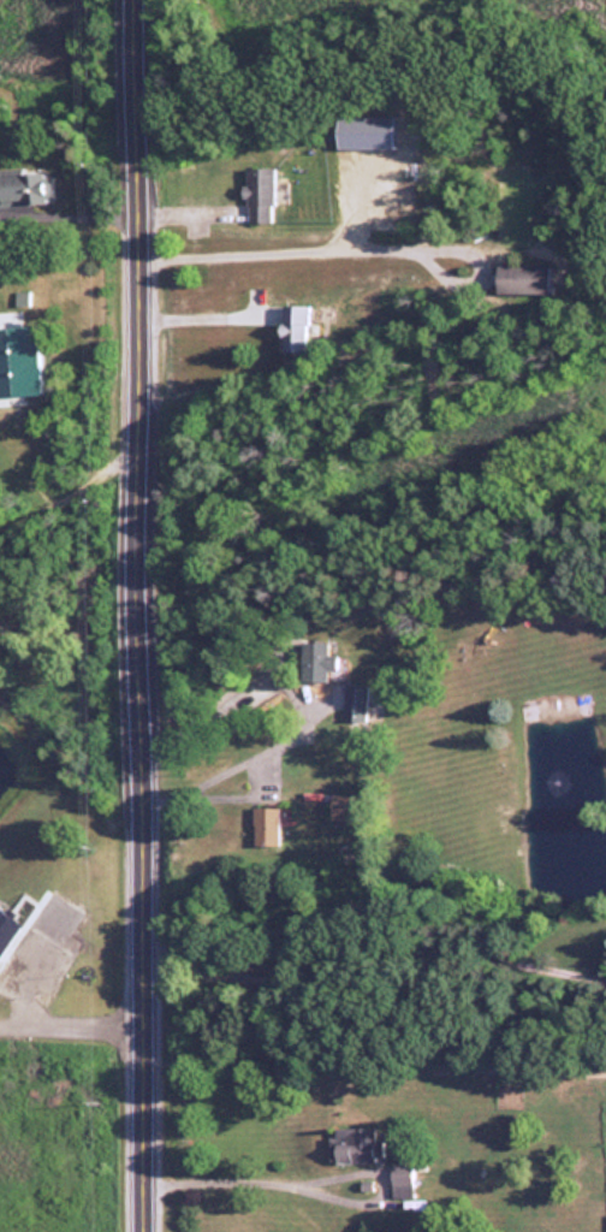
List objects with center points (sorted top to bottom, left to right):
building: (28, 186)
building: (262, 194)
building: (524, 278)
building: (297, 327)
road: (145, 615)
building: (319, 661)
building: (357, 703)
building: (267, 825)
building: (7, 932)
road: (378, 955)
building: (353, 1145)
building: (402, 1175)

